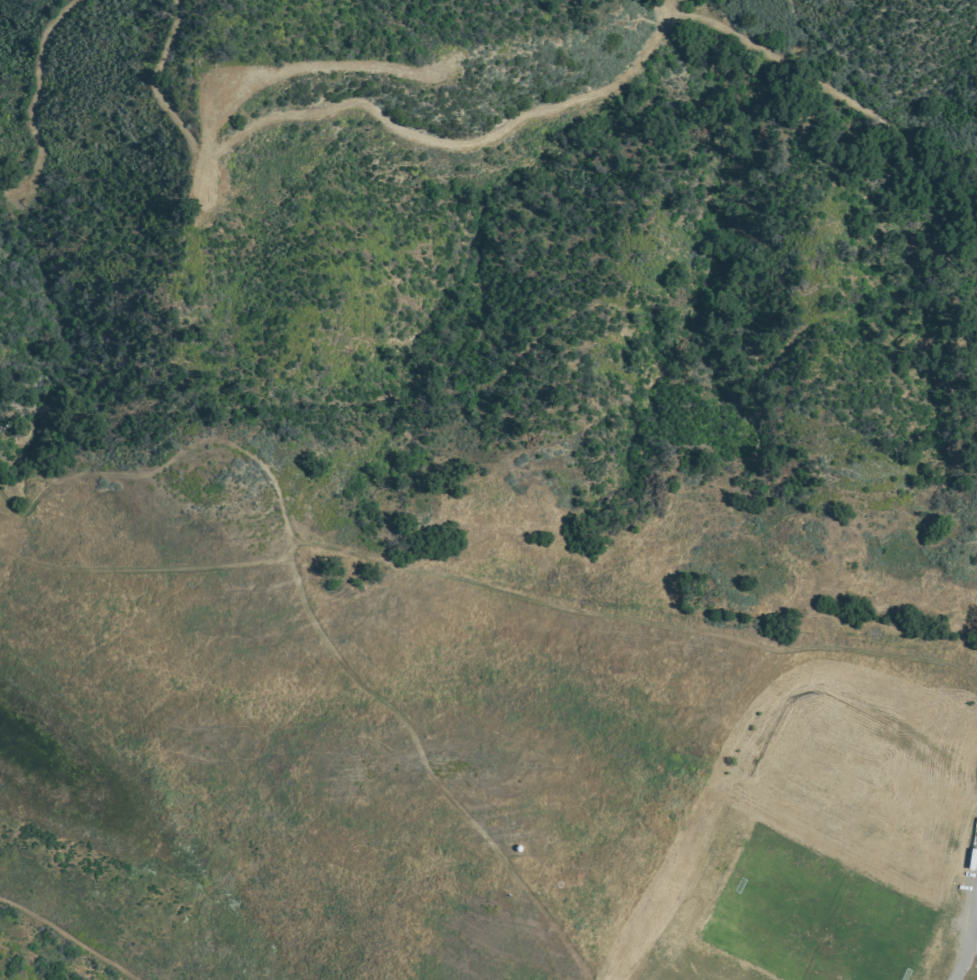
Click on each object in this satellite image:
road: (32, 100)
road: (375, 111)
road: (182, 292)
road: (433, 576)
road: (971, 938)

